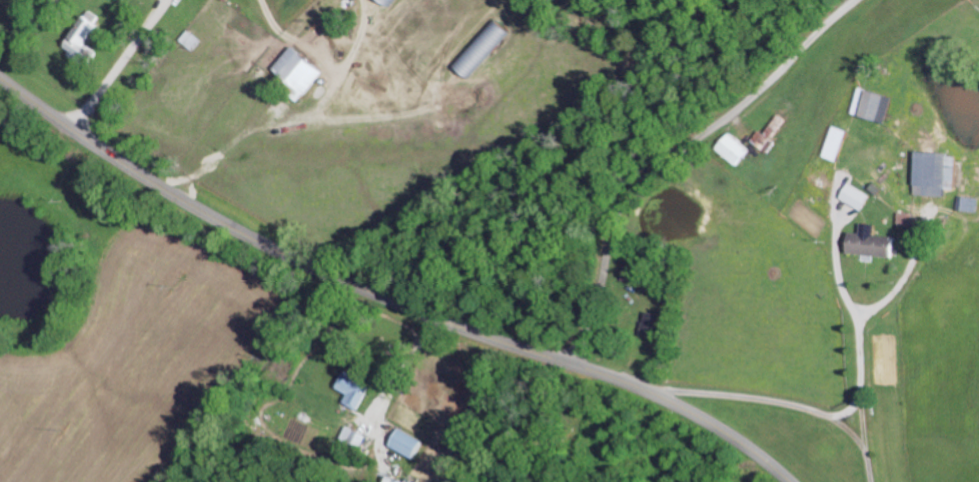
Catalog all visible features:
building: (79, 36)
road: (118, 66)
building: (294, 71)
building: (869, 105)
building: (765, 135)
building: (730, 149)
road: (676, 156)
building: (932, 174)
building: (853, 196)
building: (965, 204)
building: (904, 219)
building: (866, 243)
road: (383, 300)
building: (647, 325)
building: (351, 390)
road: (783, 399)
building: (403, 443)

